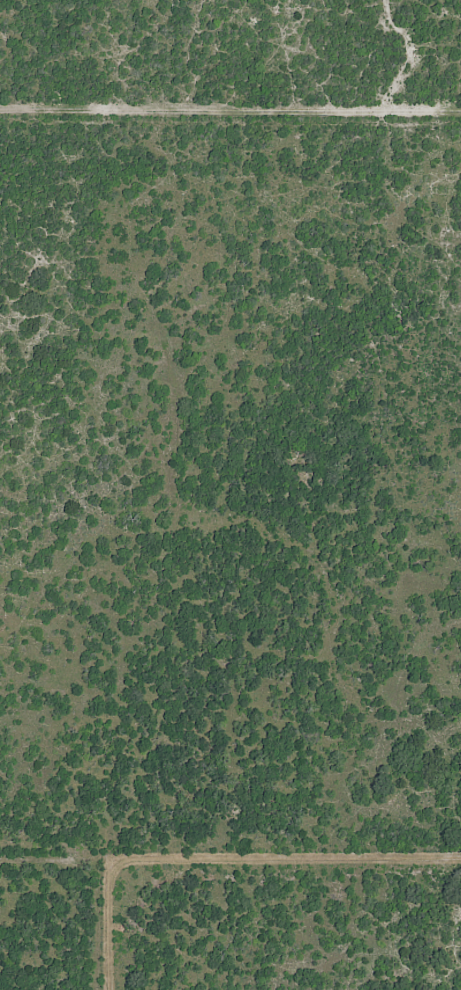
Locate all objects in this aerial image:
road: (209, 211)
road: (217, 542)

